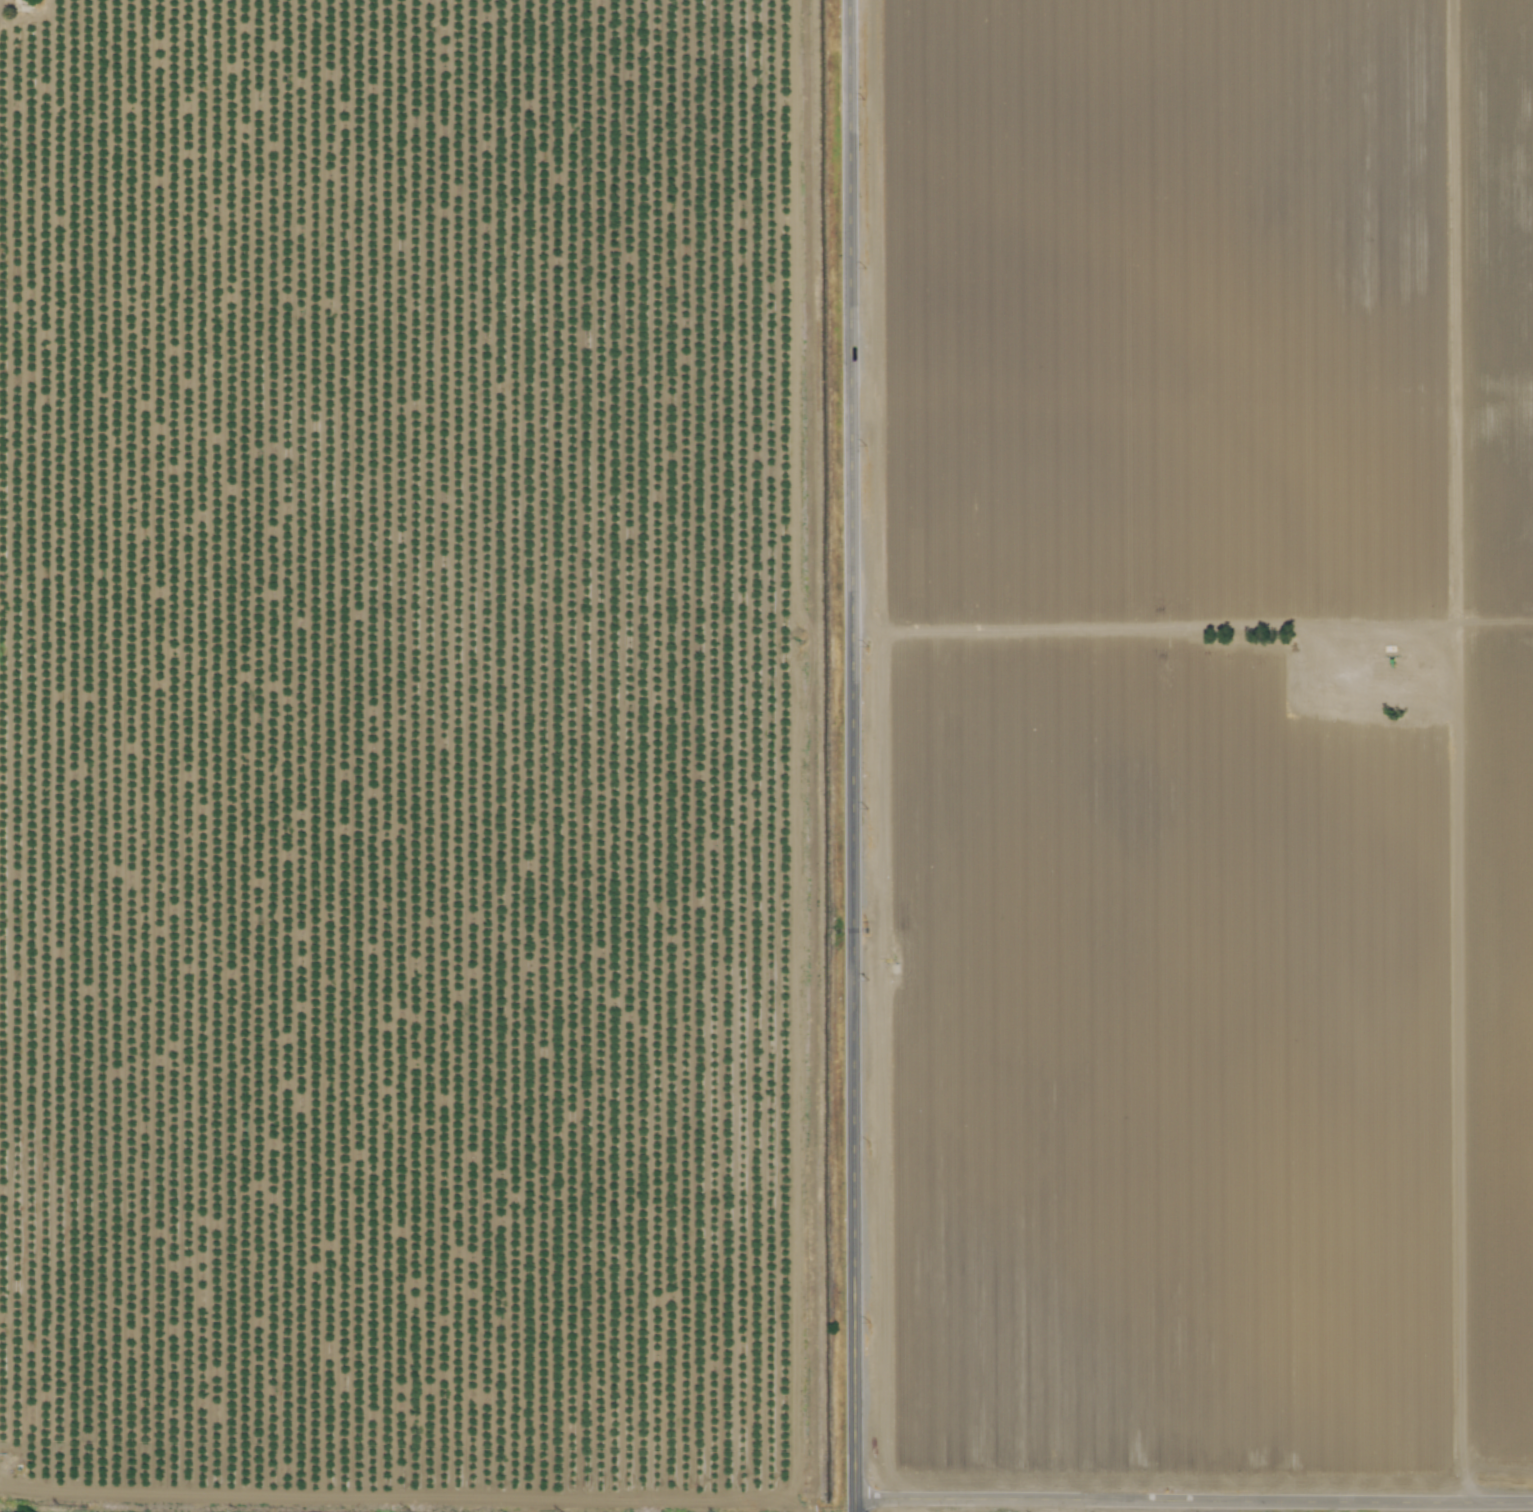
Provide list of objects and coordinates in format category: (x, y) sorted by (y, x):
road: (851, 755)
road: (1461, 770)
road: (1193, 1498)

